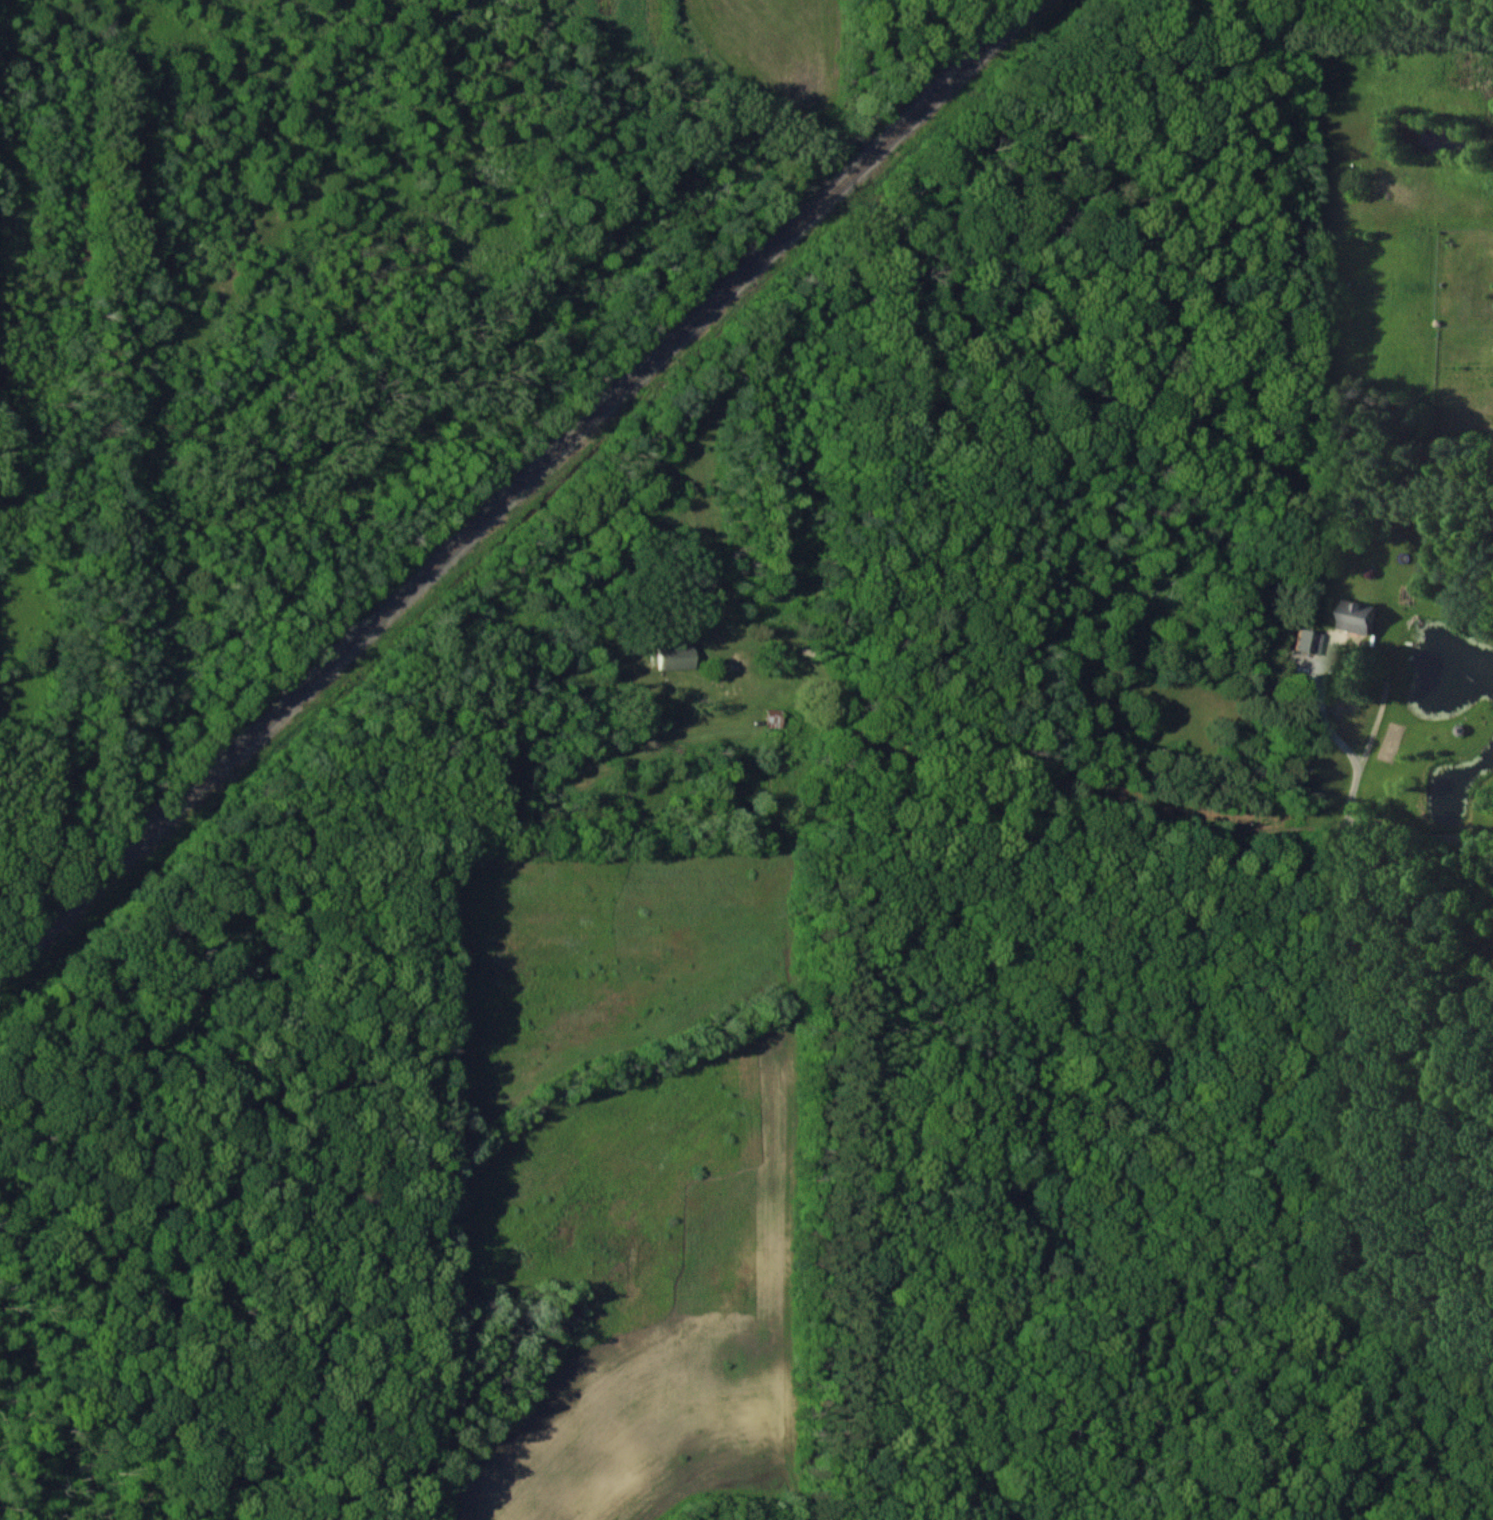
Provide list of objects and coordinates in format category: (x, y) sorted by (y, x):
railway: (522, 498)
building: (1357, 616)
building: (1307, 641)
road: (1350, 641)
building: (675, 656)
building: (773, 717)
road: (1383, 829)

